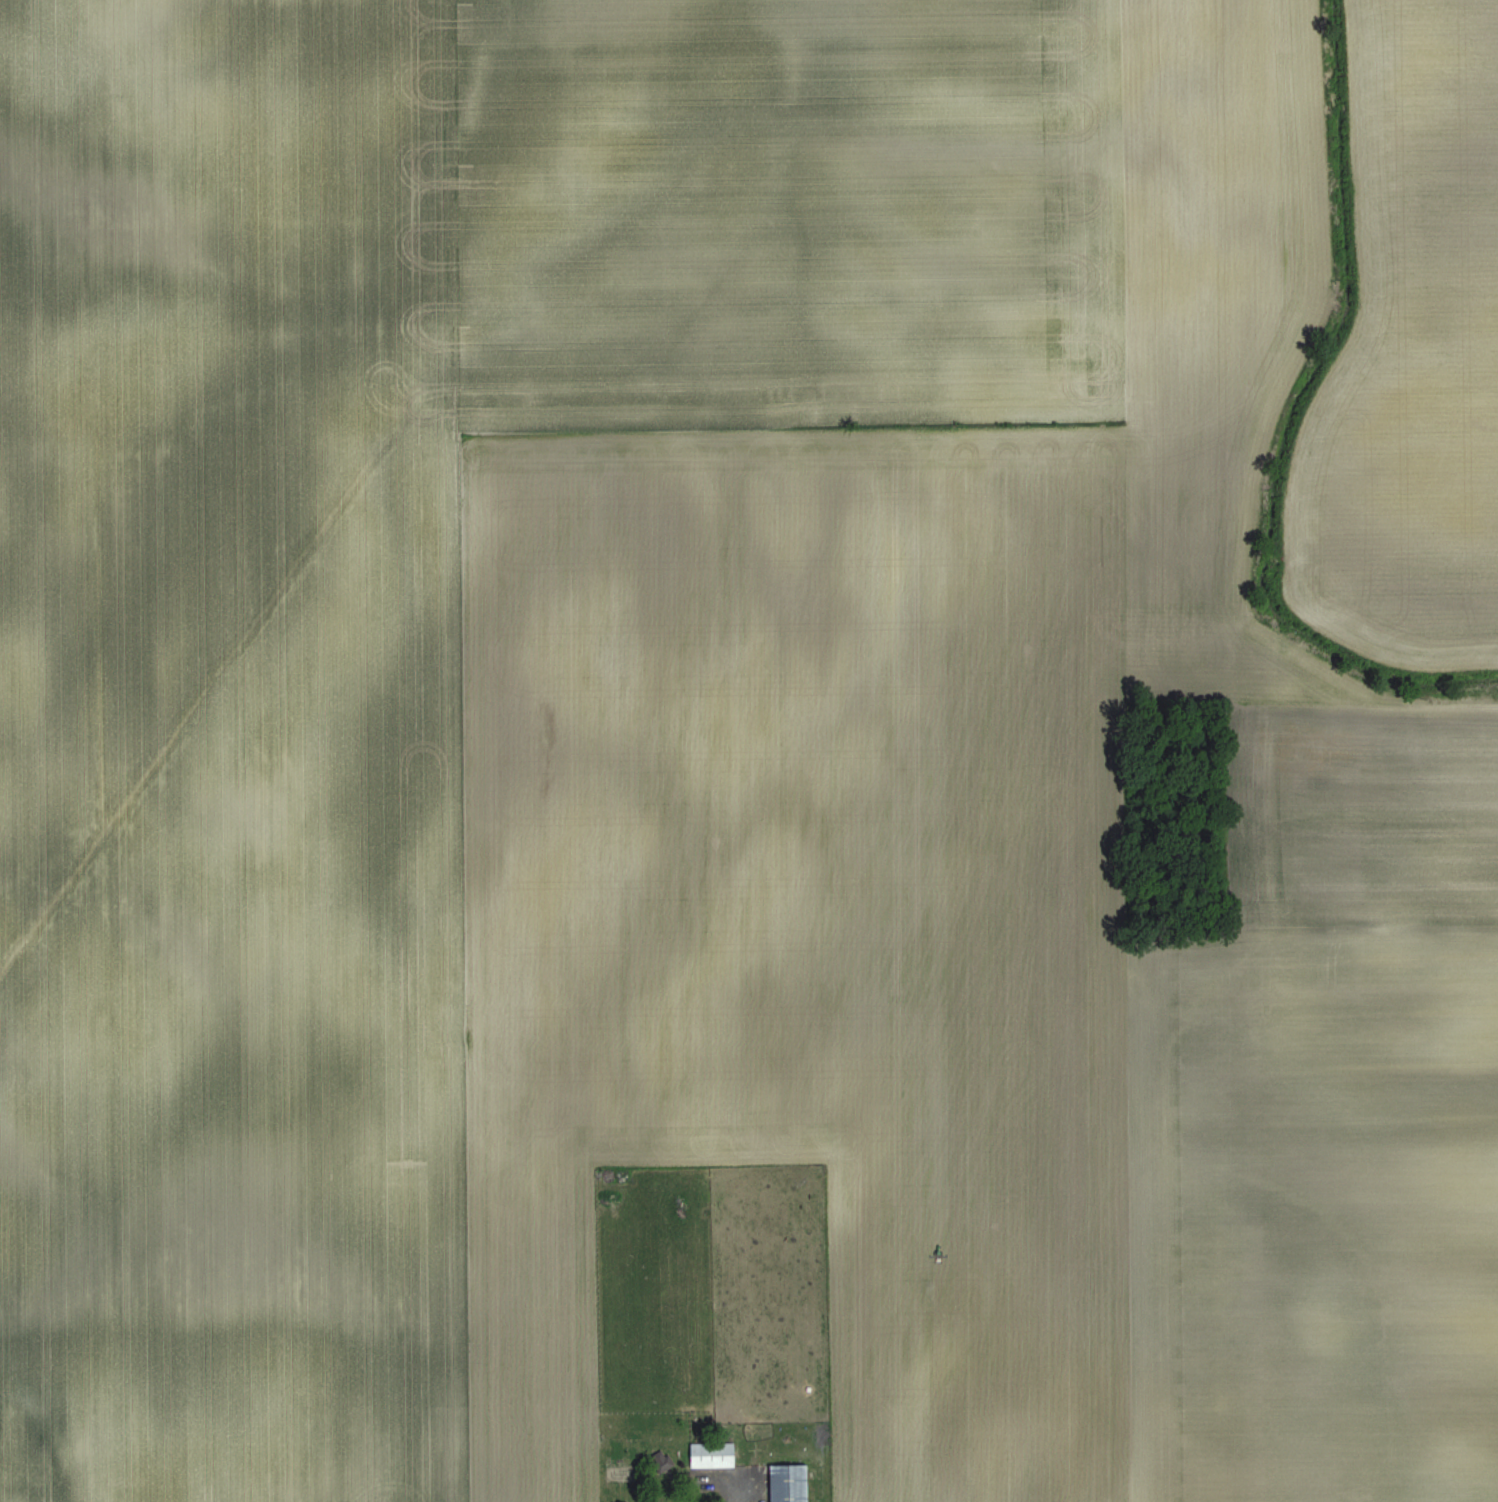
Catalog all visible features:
building: (714, 1454)
building: (790, 1483)

